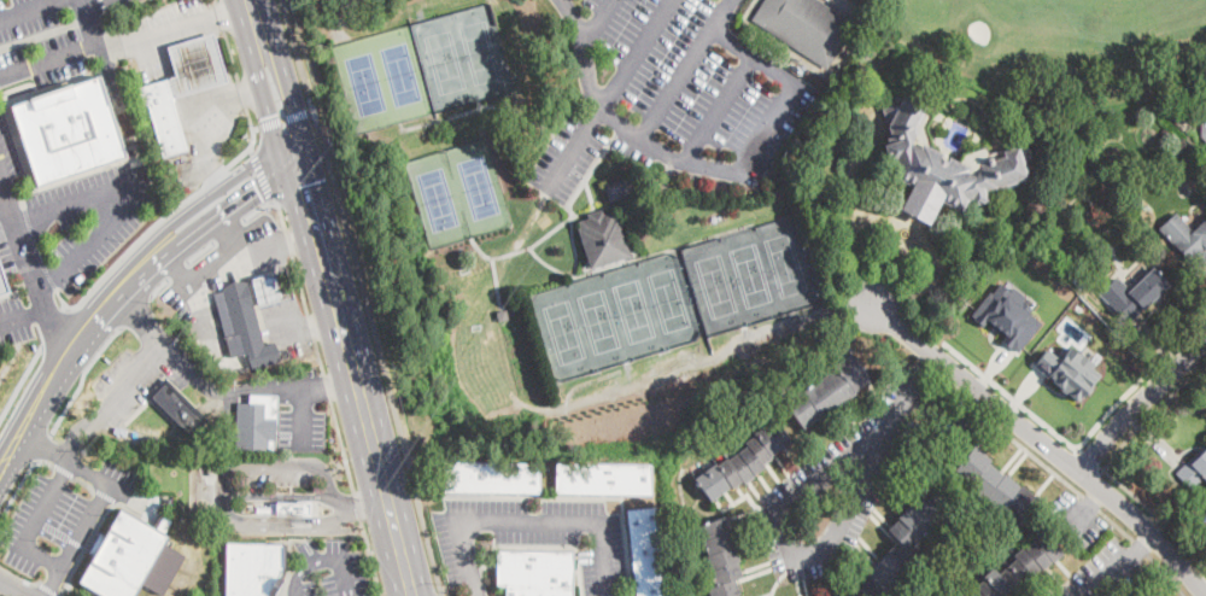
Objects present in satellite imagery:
road: (83, 4)
road: (28, 8)
road: (725, 14)
road: (188, 24)
road: (209, 27)
building: (806, 27)
road: (93, 28)
road: (189, 33)
road: (585, 35)
road: (169, 39)
road: (263, 40)
parking lot: (39, 41)
park: (484, 52)
park: (1078, 52)
road: (636, 55)
road: (48, 57)
road: (217, 58)
road: (198, 64)
park: (445, 64)
road: (177, 70)
road: (235, 72)
park: (405, 75)
road: (587, 75)
park: (368, 84)
road: (678, 84)
building: (182, 88)
road: (227, 89)
parking lot: (673, 94)
road: (207, 95)
road: (188, 101)
road: (479, 105)
road: (718, 106)
road: (193, 107)
road: (478, 109)
traffic signals: (283, 112)
road: (283, 117)
road: (287, 117)
building: (1182, 121)
road: (257, 127)
building: (1204, 127)
building: (68, 132)
road: (252, 148)
road: (270, 158)
building: (941, 162)
road: (718, 166)
road: (263, 175)
road: (300, 183)
traffic signals: (304, 183)
park: (480, 188)
traffic signals: (258, 189)
building: (620, 189)
park: (439, 200)
road: (122, 203)
road: (256, 209)
parking lot: (14, 215)
road: (17, 220)
road: (156, 224)
parking lot: (115, 228)
road: (557, 228)
road: (228, 229)
building: (1187, 238)
building: (603, 239)
road: (280, 246)
road: (36, 250)
road: (199, 251)
building: (464, 251)
park: (790, 265)
road: (176, 269)
road: (205, 270)
road: (575, 275)
park: (753, 276)
road: (145, 279)
road: (300, 284)
building: (5, 286)
road: (160, 286)
road: (498, 286)
building: (271, 287)
road: (289, 287)
park: (714, 287)
road: (106, 293)
building: (1140, 294)
road: (365, 297)
road: (62, 298)
park: (672, 300)
road: (40, 310)
road: (136, 310)
park: (634, 311)
road: (51, 314)
building: (503, 314)
building: (1007, 315)
road: (16, 319)
road: (204, 320)
parking lot: (13, 321)
park: (599, 322)
road: (141, 325)
road: (308, 325)
building: (244, 326)
road: (55, 328)
park: (561, 333)
road: (145, 364)
road: (924, 366)
building: (1069, 370)
road: (356, 374)
road: (81, 376)
parking lot: (139, 378)
road: (19, 381)
road: (327, 385)
road: (294, 387)
building: (829, 390)
road: (1012, 397)
road: (1140, 403)
road: (943, 405)
building: (177, 408)
parking lot: (301, 408)
road: (1107, 413)
road: (1153, 413)
road: (300, 417)
building: (256, 427)
road: (81, 436)
road: (1043, 443)
road: (41, 445)
road: (341, 445)
road: (47, 446)
road: (1090, 458)
road: (43, 460)
road: (14, 461)
building: (744, 461)
building: (1193, 471)
road: (99, 474)
parking lot: (275, 477)
building: (492, 478)
road: (224, 479)
building: (604, 479)
building: (995, 486)
road: (17, 487)
road: (285, 496)
road: (1089, 499)
road: (1096, 499)
road: (368, 501)
road: (357, 504)
building: (288, 508)
parking lot: (63, 513)
road: (1155, 513)
road: (1079, 519)
road: (527, 521)
road: (257, 527)
parking lot: (533, 538)
building: (904, 543)
road: (562, 545)
road: (1144, 545)
building: (646, 551)
road: (819, 553)
road: (42, 555)
building: (123, 556)
road: (370, 556)
building: (721, 557)
road: (308, 561)
building: (253, 568)
building: (1019, 568)
parking lot: (328, 571)
building: (537, 573)
road: (1111, 575)
road: (347, 577)
road: (19, 578)
road: (53, 580)
road: (14, 586)
road: (47, 589)

